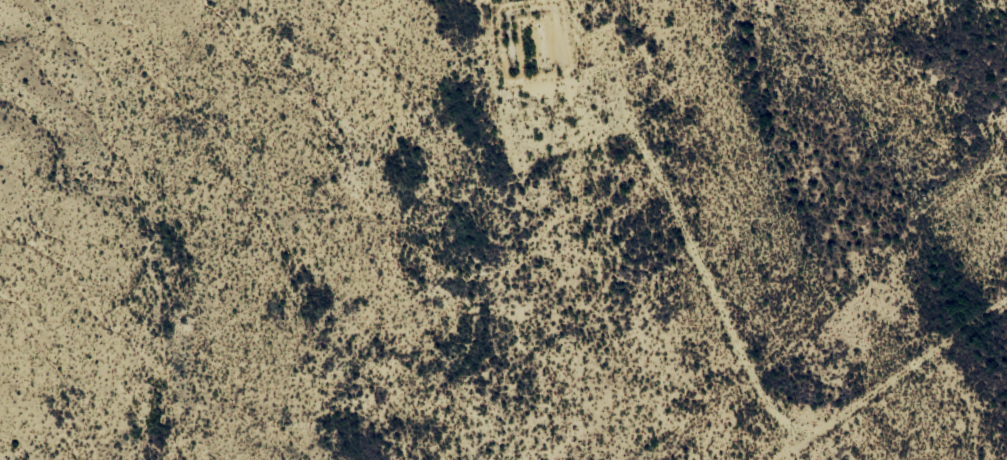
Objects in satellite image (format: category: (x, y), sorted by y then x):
road: (910, 386)

